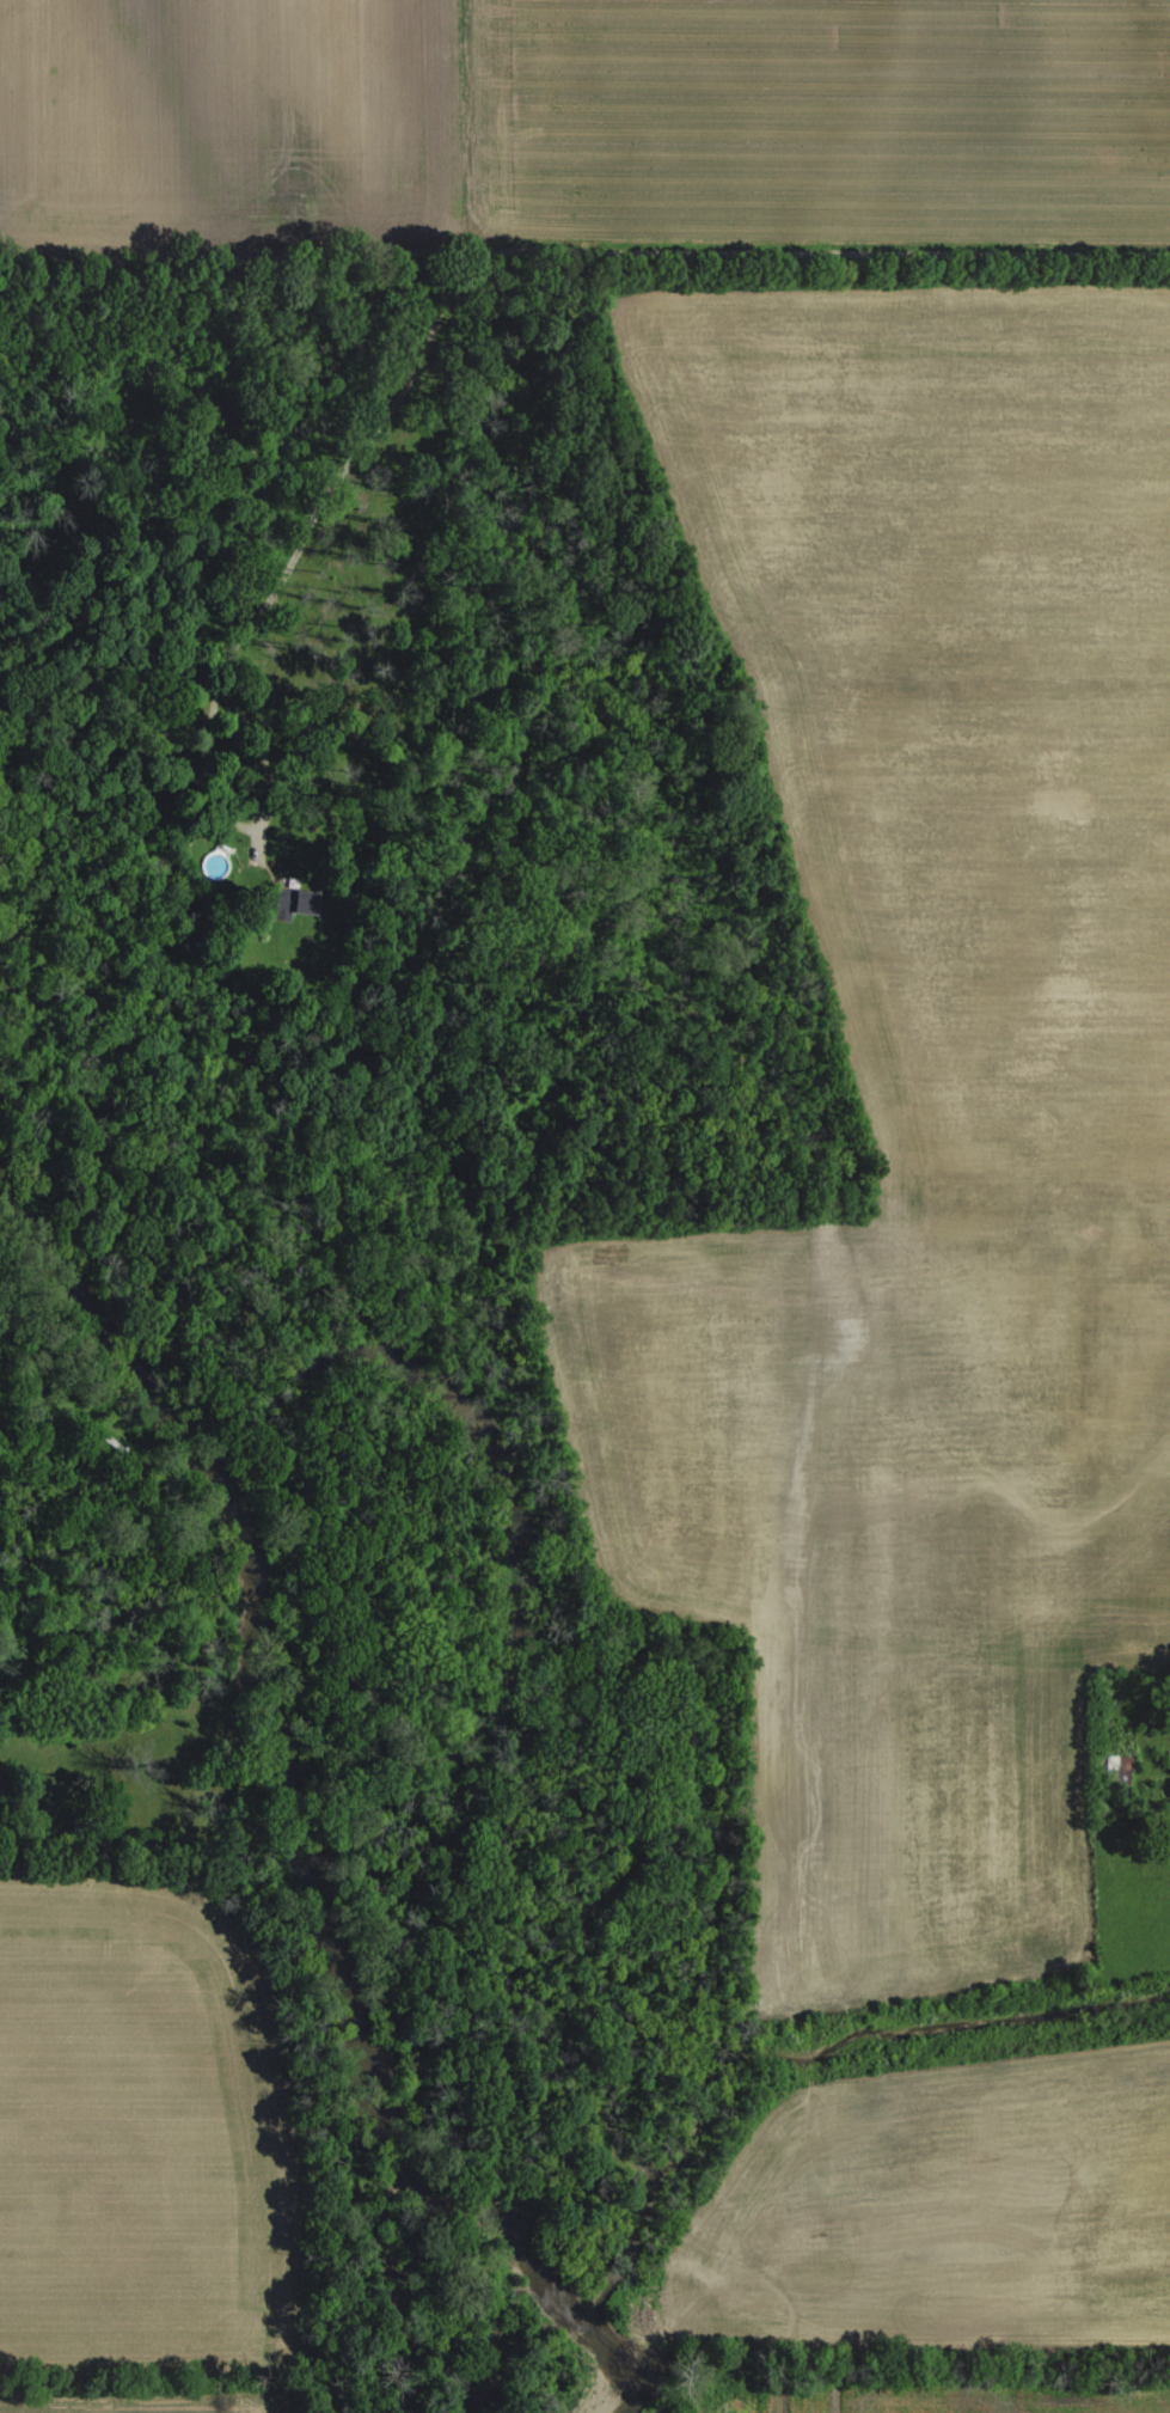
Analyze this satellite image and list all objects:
road: (569, 249)
road: (247, 823)
building: (293, 902)
building: (1120, 1763)
building: (79, 1827)

